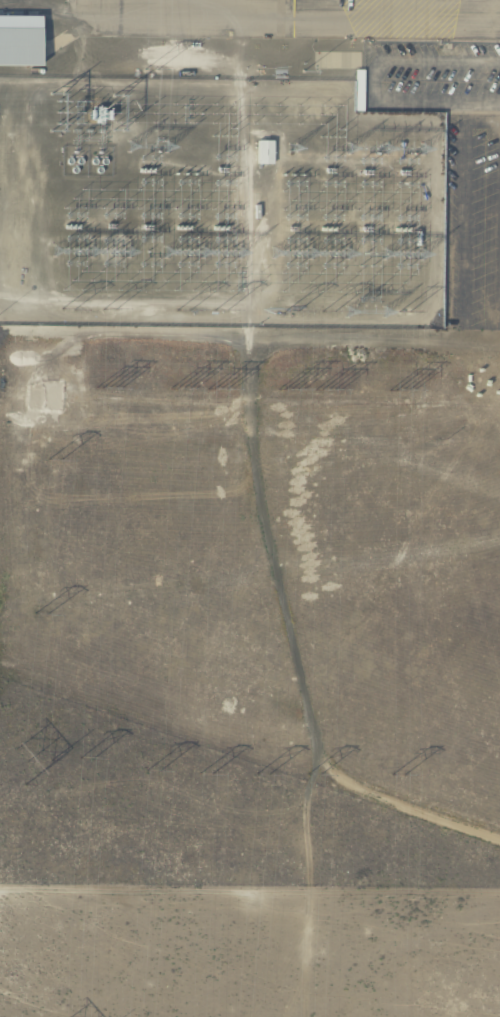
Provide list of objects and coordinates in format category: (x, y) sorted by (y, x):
building: (19, 47)
road: (372, 84)
building: (264, 153)
parking lot: (454, 160)
power plant: (218, 163)
power substation: (215, 203)
road: (463, 215)
power tower: (67, 309)
power tower: (108, 309)
power tower: (181, 309)
power tower: (290, 309)
power tower: (219, 310)
power tower: (328, 310)
power tower: (403, 312)
power tower: (108, 388)
power tower: (180, 388)
power tower: (219, 389)
power tower: (292, 389)
power tower: (327, 389)
power tower: (402, 389)
power tower: (55, 460)
power tower: (41, 613)
power tower: (85, 754)
power tower: (26, 756)
power tower: (150, 765)
power tower: (203, 767)
power tower: (260, 770)
power tower: (314, 770)
power tower: (401, 770)

